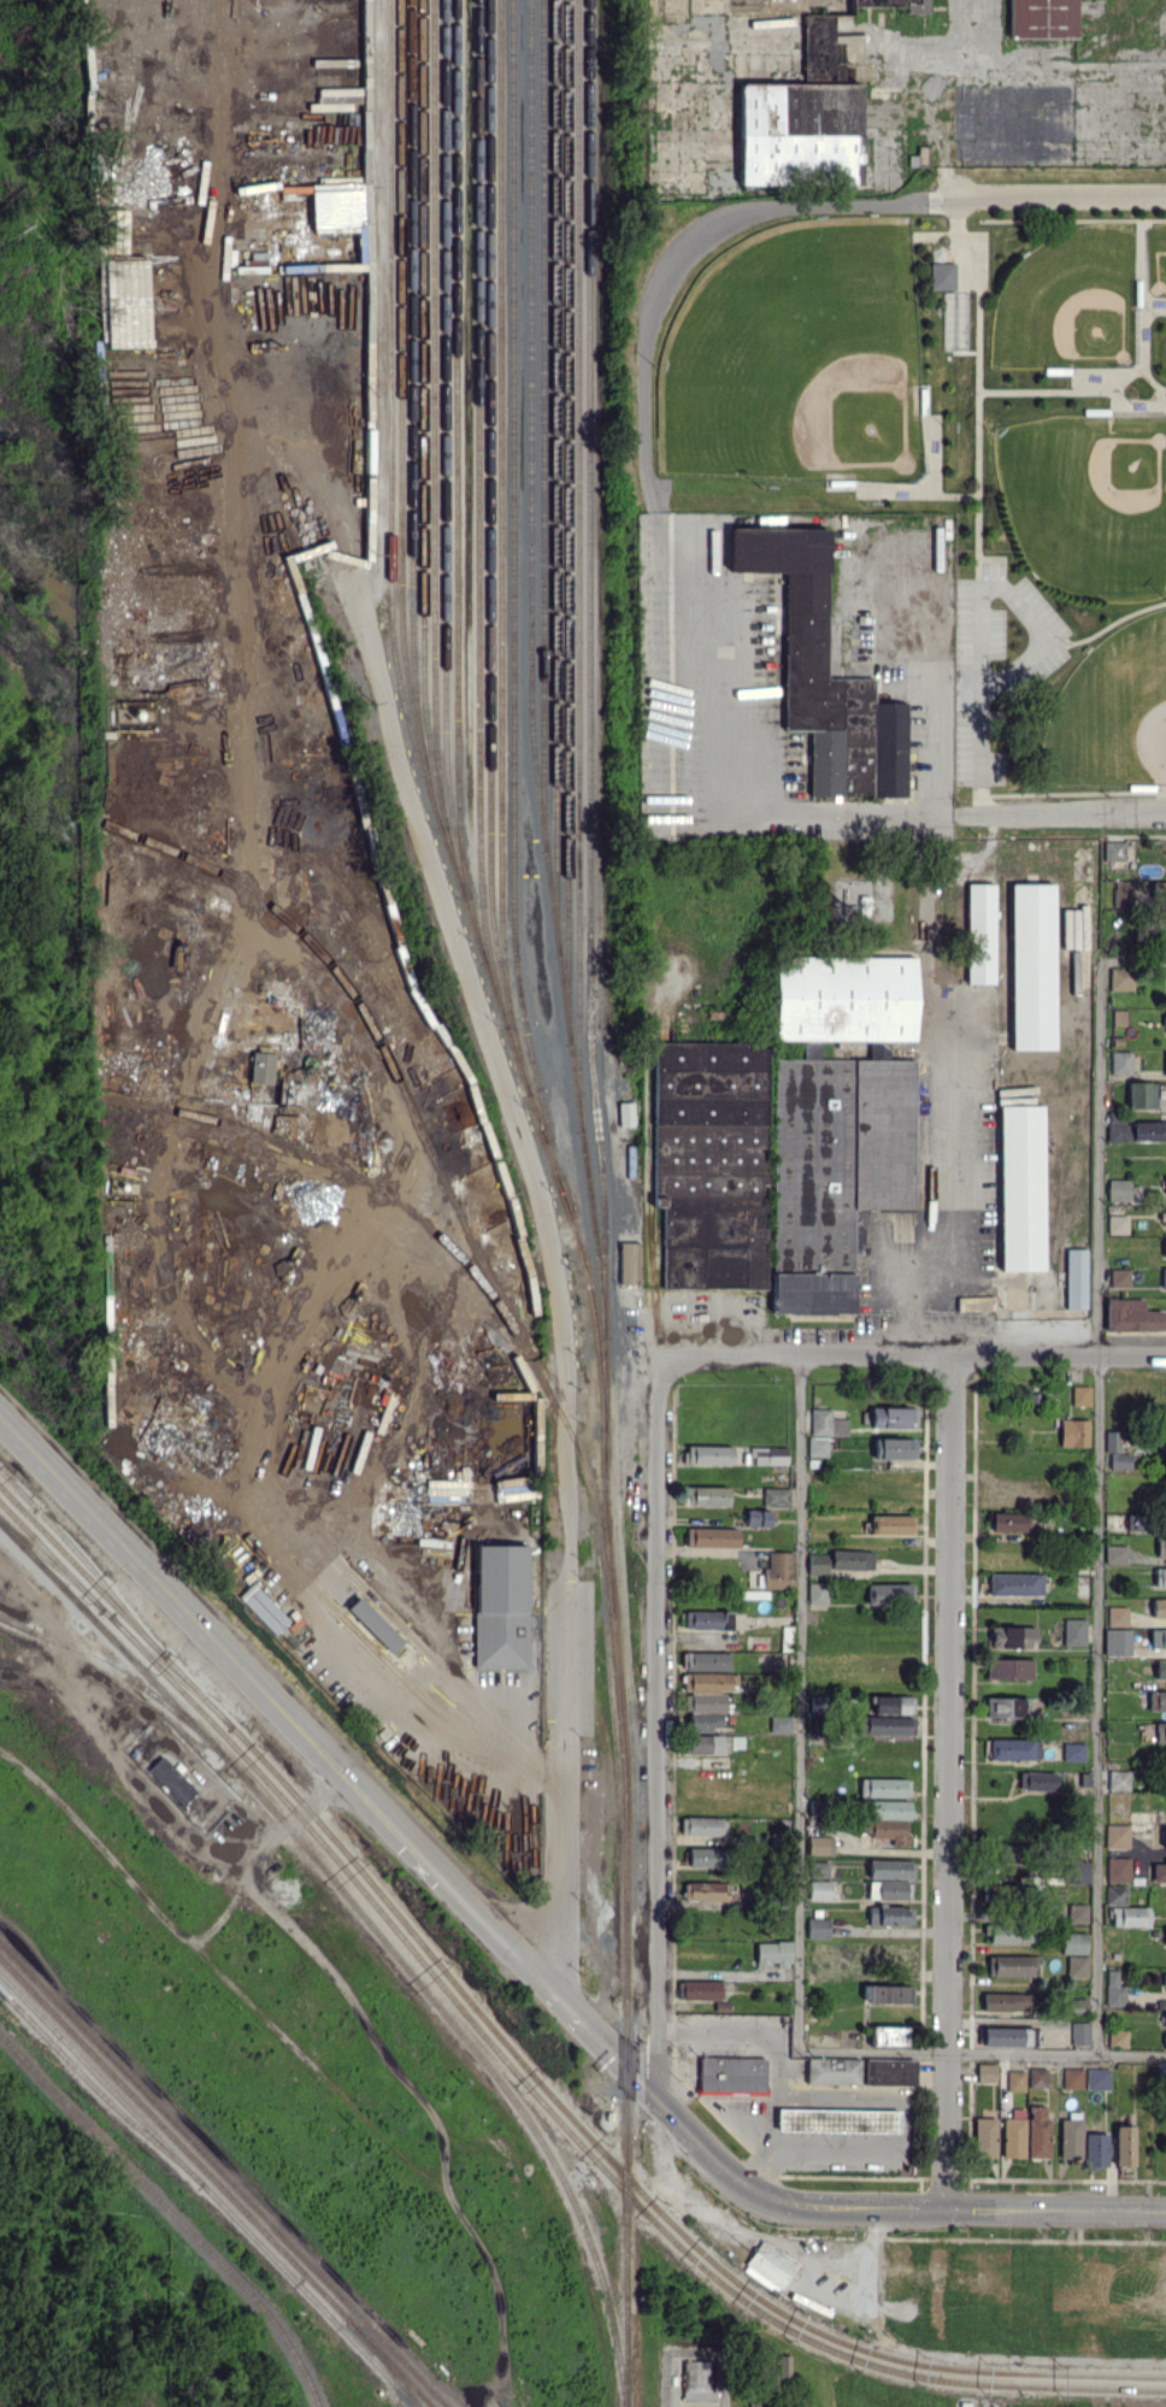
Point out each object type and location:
building: (895, 5)
building: (1041, 20)
building: (336, 99)
building: (801, 118)
road: (1060, 195)
building: (340, 208)
park: (1156, 258)
building: (941, 276)
park: (1070, 300)
park: (796, 355)
railway: (400, 379)
road: (641, 401)
railway: (422, 413)
railway: (388, 416)
railway: (529, 425)
railway: (541, 425)
park: (947, 440)
railway: (432, 447)
railway: (443, 447)
railway: (411, 449)
railway: (554, 477)
park: (1088, 500)
railway: (500, 512)
railway: (488, 513)
railway: (478, 514)
railway: (565, 520)
railway: (455, 551)
railway: (577, 567)
railway: (512, 607)
road: (980, 612)
building: (823, 671)
parking lot: (1005, 678)
road: (931, 694)
park: (1112, 710)
road: (865, 811)
road: (1059, 812)
building: (1113, 849)
building: (1158, 890)
building: (1121, 893)
railway: (550, 902)
railway: (472, 926)
building: (980, 932)
road: (1133, 959)
building: (1032, 966)
building: (1073, 972)
building: (1120, 978)
railway: (563, 997)
building: (1165, 1022)
railway: (519, 1059)
building: (1120, 1061)
building: (1165, 1065)
building: (260, 1067)
railway: (575, 1087)
building: (1141, 1094)
building: (838, 1104)
building: (624, 1113)
building: (1133, 1129)
railway: (429, 1150)
building: (711, 1161)
railway: (346, 1171)
building: (1165, 1184)
building: (1021, 1187)
building: (1118, 1189)
railway: (602, 1203)
road: (966, 1214)
building: (1164, 1216)
building: (1115, 1224)
railway: (594, 1235)
building: (1164, 1247)
railway: (582, 1258)
building: (628, 1263)
building: (1119, 1277)
building: (1164, 1277)
building: (1074, 1278)
building: (812, 1293)
building: (974, 1302)
building: (1130, 1316)
road: (911, 1355)
building: (1080, 1395)
building: (893, 1417)
building: (826, 1423)
building: (1073, 1432)
building: (1162, 1443)
building: (817, 1446)
building: (894, 1448)
building: (1115, 1452)
building: (708, 1454)
building: (768, 1455)
building: (706, 1495)
building: (775, 1496)
road: (1099, 1506)
building: (756, 1517)
building: (1007, 1522)
building: (1136, 1522)
building: (891, 1524)
building: (711, 1536)
building: (1160, 1546)
building: (1115, 1554)
building: (850, 1560)
railway: (86, 1561)
railway: (51, 1563)
building: (817, 1563)
building: (778, 1570)
building: (1160, 1577)
building: (1014, 1584)
building: (817, 1591)
road: (170, 1593)
building: (889, 1594)
building: (499, 1606)
building: (1159, 1607)
building: (263, 1608)
building: (1117, 1616)
building: (706, 1619)
railway: (14, 1622)
building: (373, 1624)
building: (1073, 1631)
building: (1012, 1636)
building: (1158, 1638)
building: (1117, 1641)
building: (706, 1660)
building: (1008, 1667)
building: (1160, 1669)
railway: (171, 1670)
railway: (119, 1672)
building: (705, 1699)
building: (1156, 1700)
road: (797, 1701)
building: (893, 1703)
building: (1008, 1706)
building: (779, 1723)
building: (885, 1724)
road: (655, 1726)
building: (1160, 1731)
building: (702, 1743)
building: (1009, 1748)
building: (1073, 1750)
building: (171, 1779)
building: (1119, 1779)
road: (145, 1781)
road: (949, 1781)
building: (1037, 1781)
building: (883, 1787)
road: (558, 1808)
building: (887, 1820)
railway: (320, 1824)
building: (702, 1825)
building: (1117, 1836)
building: (1165, 1837)
railway: (320, 1841)
building: (819, 1844)
building: (1008, 1854)
building: (706, 1856)
building: (817, 1868)
building: (890, 1868)
building: (1118, 1868)
building: (1077, 1871)
building: (1159, 1871)
road: (446, 1881)
building: (819, 1889)
building: (888, 1889)
building: (706, 1891)
building: (997, 1893)
building: (1115, 1894)
building: (1077, 1913)
building: (890, 1914)
building: (1130, 1915)
railway: (373, 1928)
building: (817, 1928)
building: (1011, 1932)
building: (1165, 1941)
building: (1073, 1942)
building: (825, 1948)
building: (888, 1952)
building: (772, 1953)
building: (1008, 1965)
building: (1077, 1965)
building: (814, 1972)
building: (1164, 1978)
building: (697, 1989)
building: (1113, 1989)
building: (885, 1993)
building: (1006, 2001)
building: (1074, 2003)
building: (1165, 2018)
building: (1079, 2032)
building: (888, 2035)
building: (1003, 2036)
building: (1117, 2037)
building: (1165, 2041)
road: (603, 2046)
road: (982, 2050)
road: (776, 2053)
building: (832, 2070)
building: (889, 2071)
building: (985, 2072)
building: (731, 2076)
building: (1037, 2076)
building: (1072, 2077)
building: (1097, 2078)
building: (1015, 2079)
railway: (98, 2090)
building: (837, 2119)
building: (1038, 2132)
building: (985, 2136)
building: (1013, 2137)
building: (1070, 2137)
road: (700, 2143)
building: (1124, 2144)
road: (836, 2146)
building: (1096, 2149)
railway: (223, 2174)
railway: (216, 2183)
railway: (207, 2190)
road: (954, 2207)
railway: (171, 2212)
road: (946, 2255)
building: (768, 2266)
park: (104, 2294)
railway: (762, 2312)
railway: (747, 2314)
railway: (770, 2346)
railway: (867, 2352)
road: (980, 2358)
railway: (385, 2362)
railway: (868, 2364)
building: (784, 2365)
building: (770, 2377)
building: (696, 2380)
road: (795, 2397)

